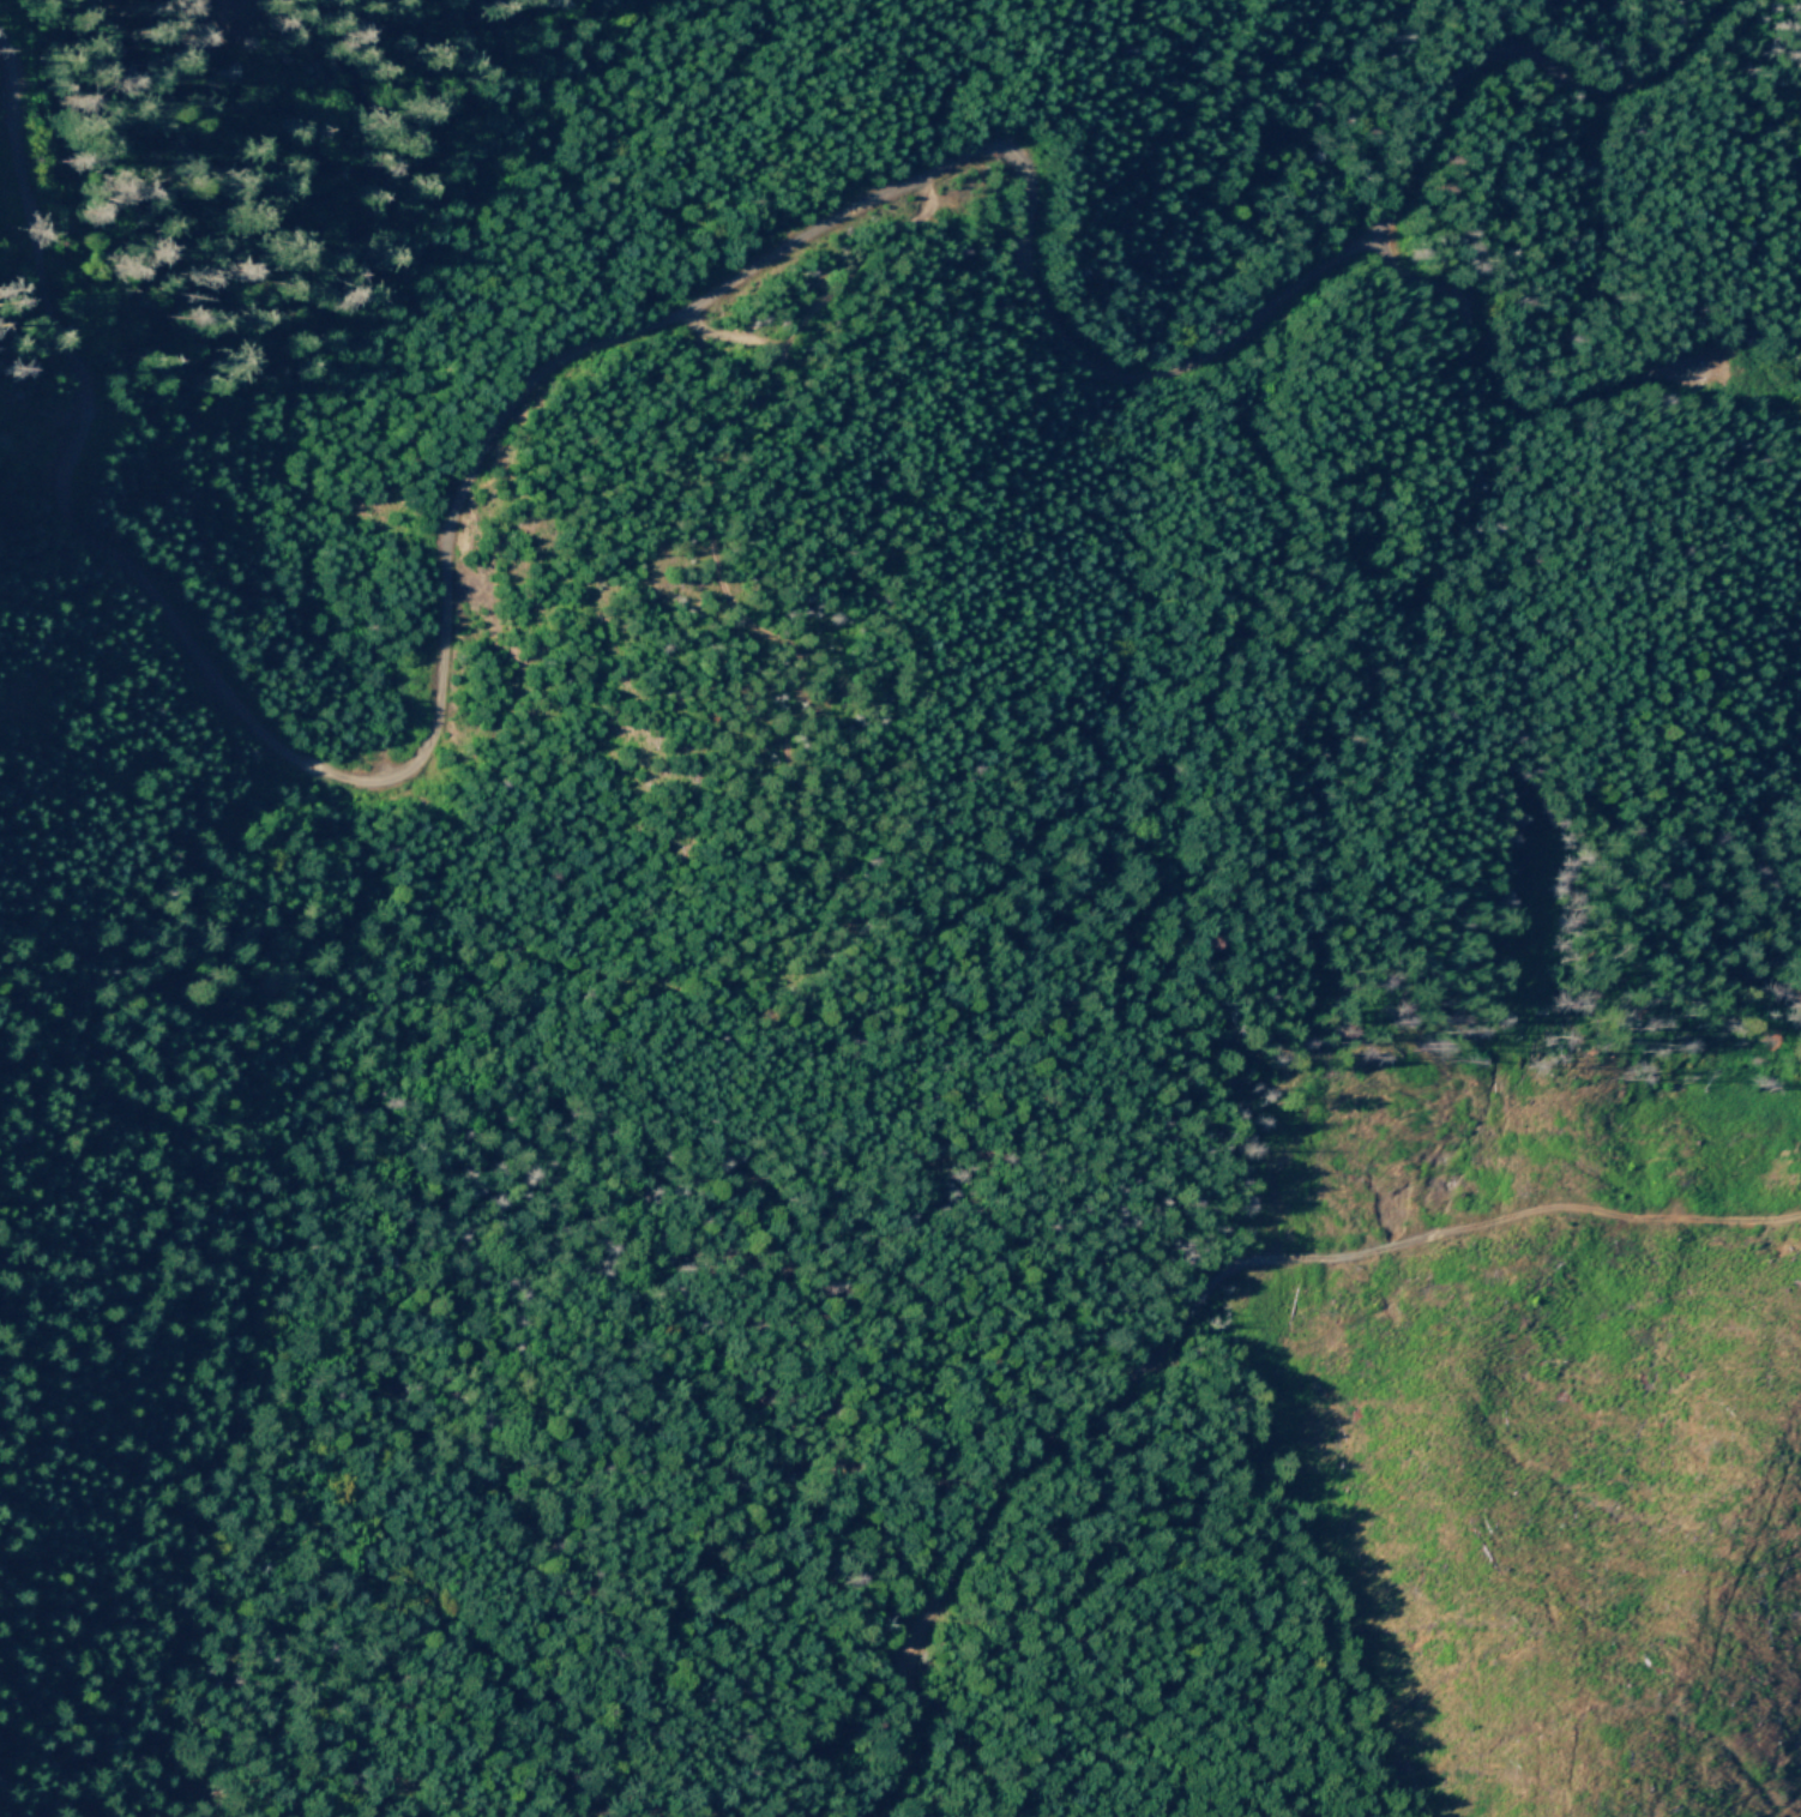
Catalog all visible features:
road: (819, 307)
road: (646, 331)
road: (1472, 365)
road: (1198, 1312)

